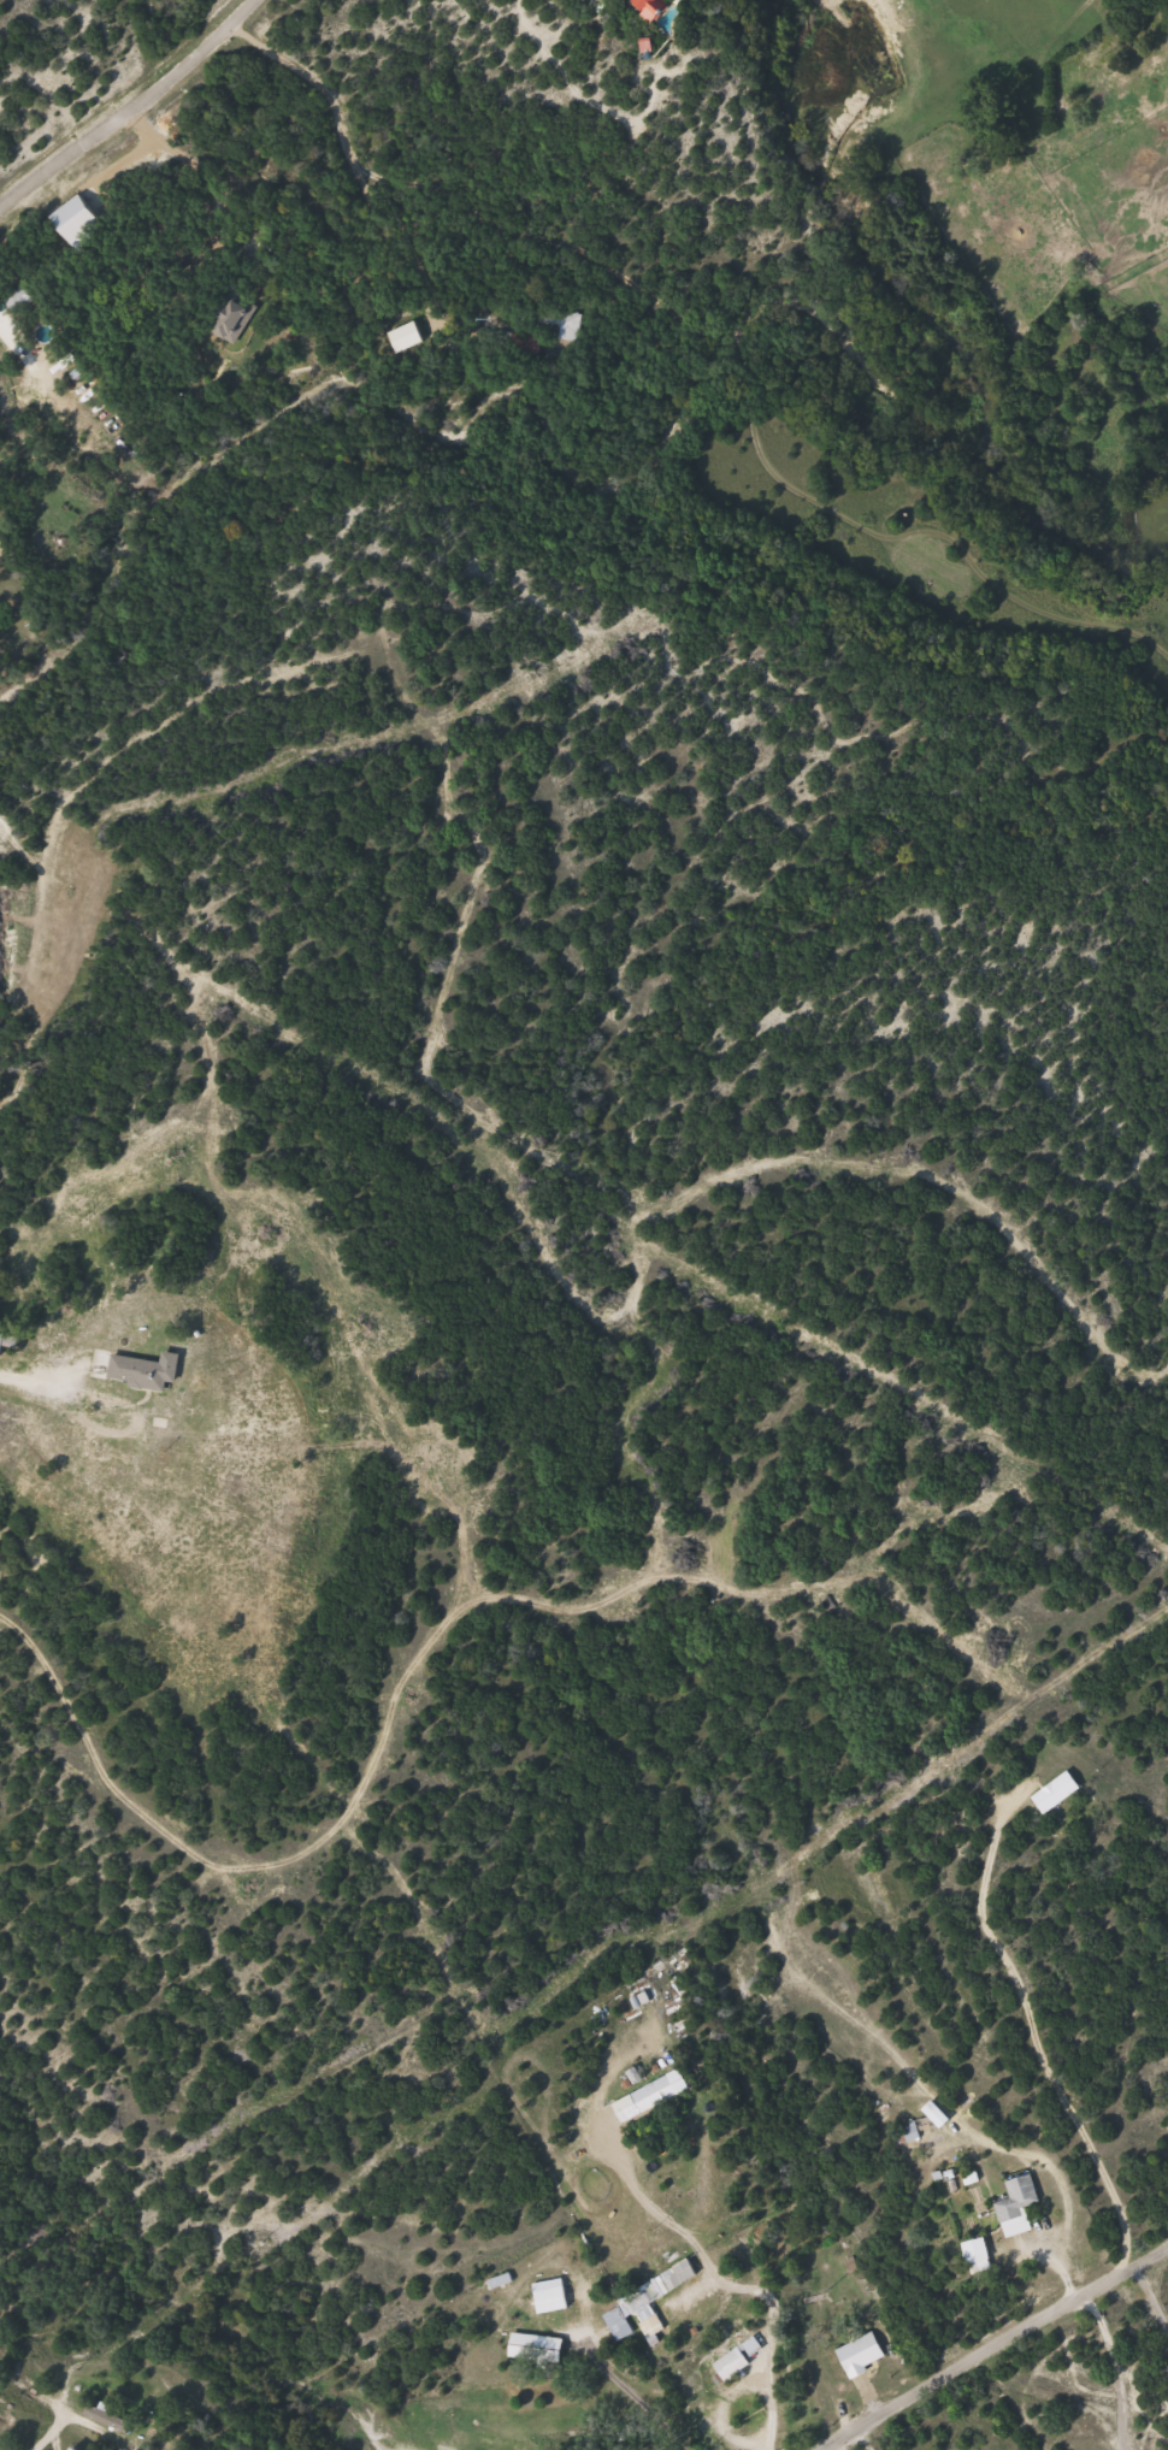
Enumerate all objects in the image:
building: (657, 10)
road: (11, 98)
road: (143, 123)
building: (26, 297)
building: (231, 318)
building: (567, 323)
building: (531, 343)
building: (136, 1371)
road: (37, 1380)
building: (1060, 1793)
building: (660, 2096)
building: (909, 2135)
building: (1021, 2206)
building: (981, 2256)
road: (735, 2285)
building: (555, 2296)
road: (1150, 2301)
building: (638, 2302)
building: (542, 2348)
road: (992, 2350)
building: (865, 2355)
building: (741, 2360)
road: (1046, 2414)
building: (111, 2417)
road: (862, 2439)
road: (42, 2440)

